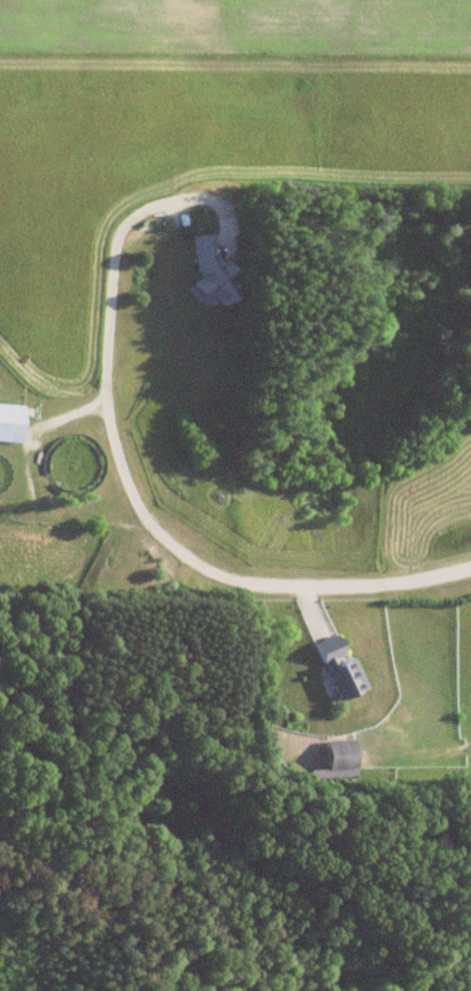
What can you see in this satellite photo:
building: (209, 271)
building: (10, 423)
road: (128, 485)
building: (339, 670)
building: (337, 760)

